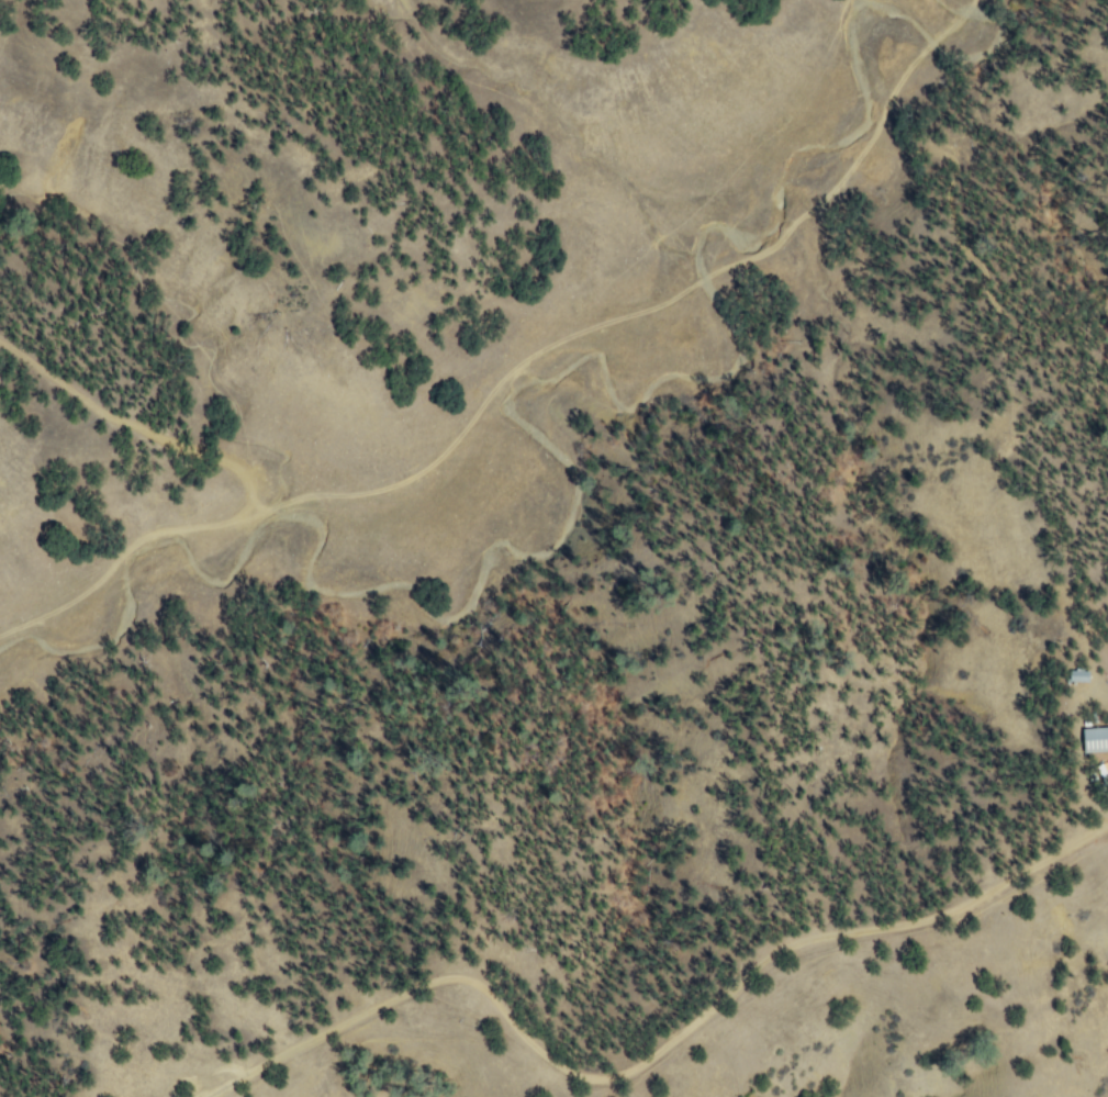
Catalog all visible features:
building: (1096, 738)

